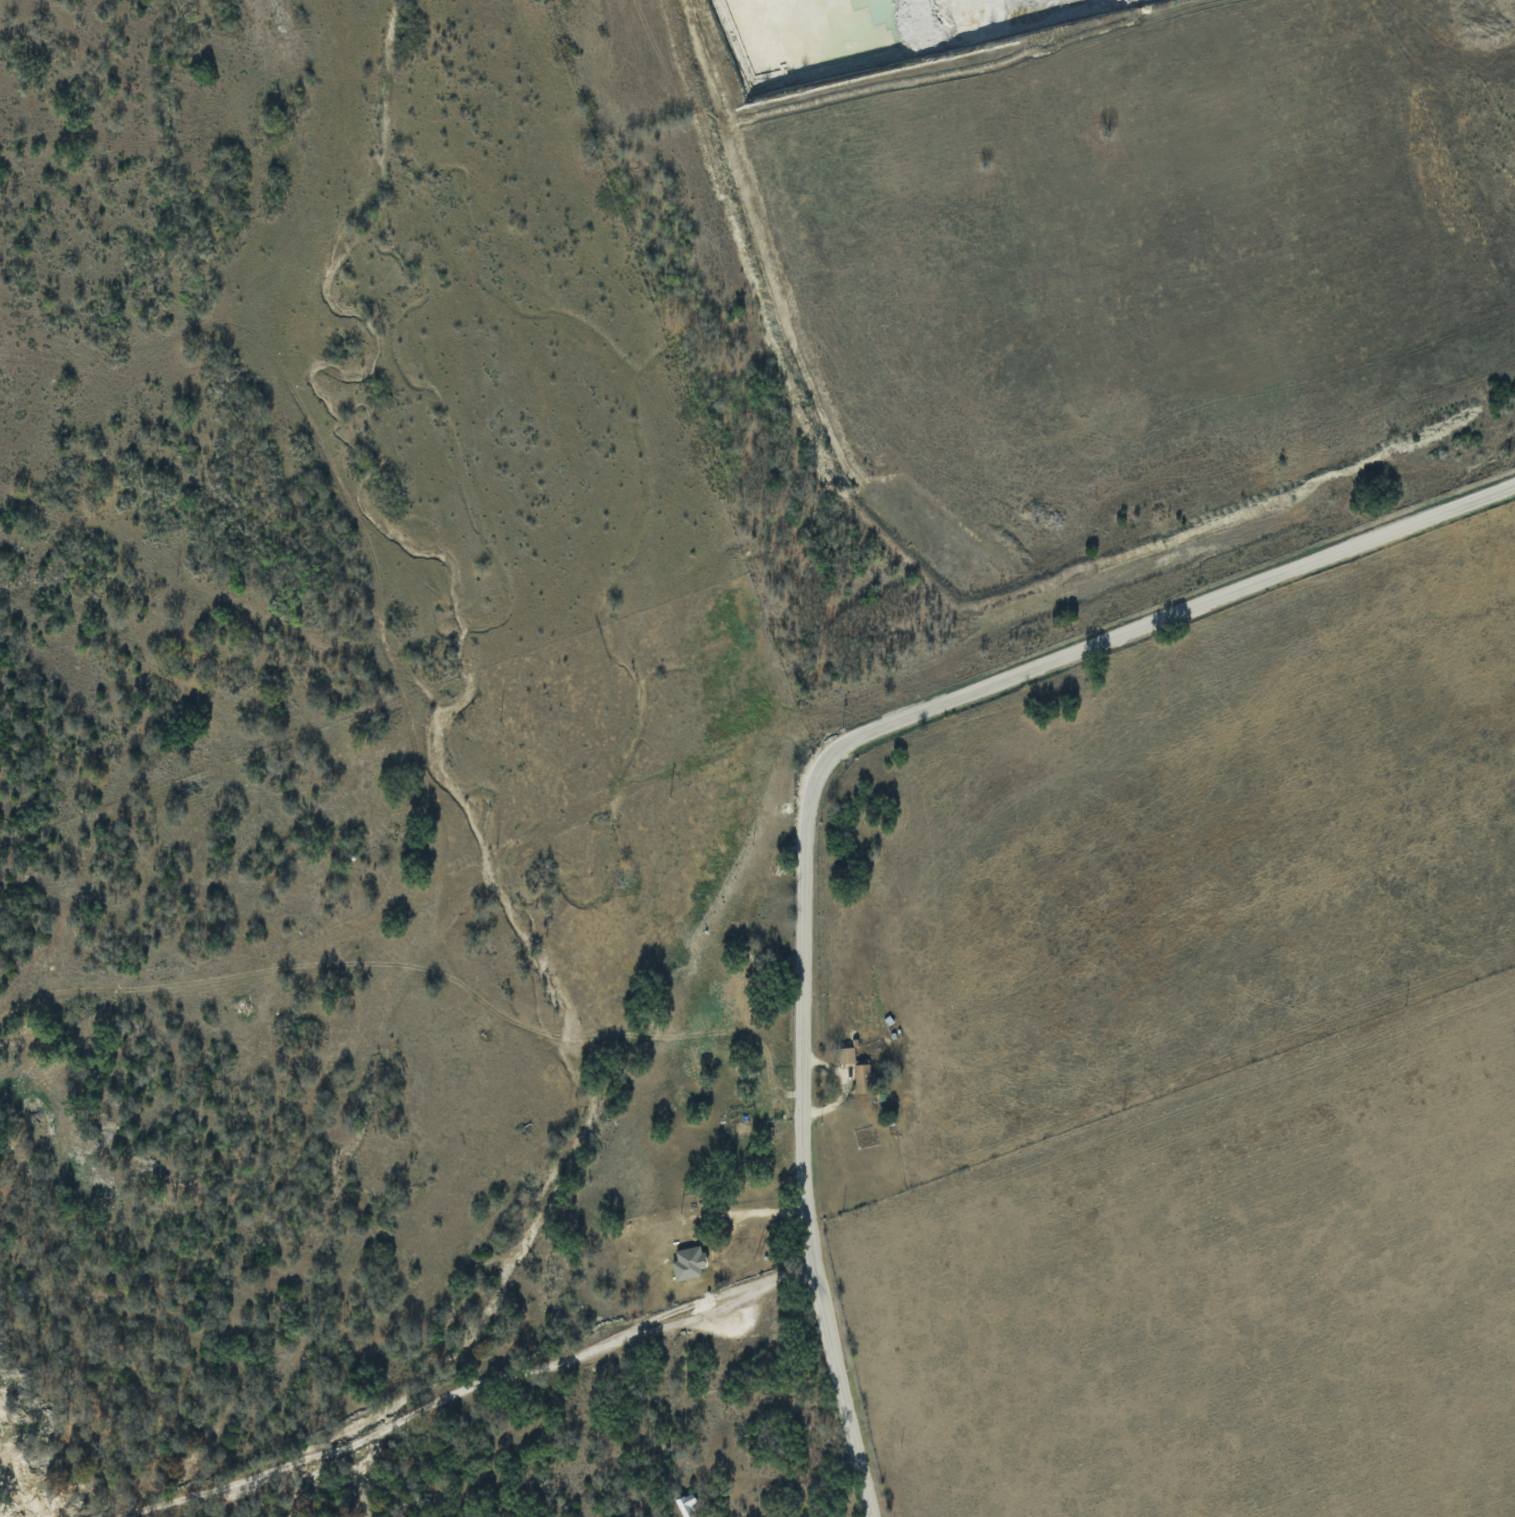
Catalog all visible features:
quarry: (838, 38)
road: (821, 772)
building: (846, 1055)
building: (862, 1076)
road: (742, 1211)
building: (688, 1263)
road: (466, 1388)
building: (686, 1504)

